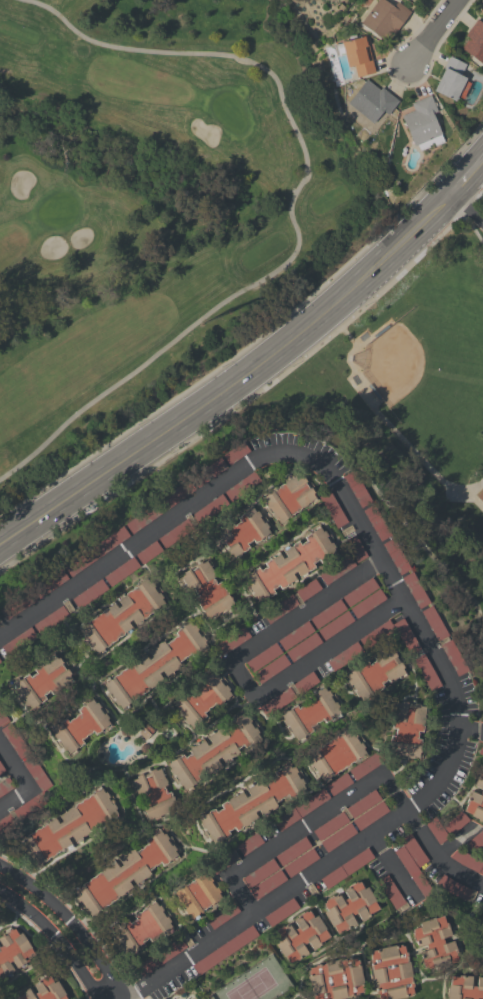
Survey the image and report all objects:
building: (410, 0)
building: (385, 17)
road: (434, 33)
building: (475, 41)
building: (356, 55)
building: (453, 80)
building: (372, 102)
building: (423, 123)
road: (467, 176)
road: (467, 208)
road: (290, 211)
park: (431, 368)
road: (235, 382)
park: (416, 405)
road: (384, 420)
building: (236, 452)
road: (301, 460)
building: (209, 472)
road: (273, 482)
building: (242, 486)
road: (319, 488)
building: (356, 489)
building: (176, 495)
building: (480, 495)
building: (289, 498)
building: (210, 509)
building: (333, 509)
road: (237, 512)
road: (190, 515)
building: (143, 519)
building: (376, 522)
road: (305, 526)
building: (177, 531)
building: (243, 532)
road: (352, 534)
building: (111, 541)
road: (213, 541)
building: (355, 548)
building: (148, 552)
road: (134, 556)
building: (396, 556)
building: (82, 562)
building: (289, 564)
building: (337, 570)
building: (121, 571)
road: (173, 574)
road: (305, 577)
building: (49, 583)
road: (325, 586)
building: (206, 590)
building: (308, 590)
building: (415, 590)
building: (359, 592)
building: (90, 594)
road: (246, 594)
road: (244, 596)
building: (367, 604)
building: (17, 605)
road: (191, 606)
building: (280, 609)
road: (56, 611)
road: (229, 614)
building: (327, 614)
building: (121, 615)
road: (228, 616)
road: (183, 617)
road: (81, 618)
road: (222, 619)
building: (51, 620)
road: (414, 621)
building: (434, 623)
road: (141, 625)
building: (335, 625)
road: (133, 626)
road: (263, 627)
building: (377, 634)
building: (295, 636)
building: (232, 641)
building: (19, 642)
building: (303, 647)
road: (421, 649)
road: (402, 654)
building: (344, 656)
building: (263, 657)
building: (453, 657)
road: (226, 659)
building: (154, 665)
road: (71, 666)
road: (231, 669)
building: (271, 669)
road: (319, 671)
building: (426, 672)
building: (375, 673)
road: (95, 676)
road: (243, 677)
road: (413, 679)
building: (42, 681)
road: (341, 686)
road: (230, 689)
building: (289, 694)
road: (406, 696)
building: (202, 699)
road: (150, 700)
road: (336, 700)
road: (252, 701)
road: (239, 706)
road: (21, 708)
road: (105, 710)
road: (67, 711)
road: (126, 712)
building: (310, 713)
building: (3, 718)
road: (271, 718)
road: (182, 724)
road: (4, 725)
building: (80, 726)
building: (406, 729)
building: (145, 731)
road: (470, 732)
building: (15, 741)
road: (372, 747)
building: (481, 750)
building: (214, 751)
road: (61, 754)
building: (336, 754)
road: (155, 762)
building: (366, 765)
building: (1, 769)
road: (104, 769)
road: (394, 771)
road: (7, 774)
road: (238, 783)
building: (338, 784)
road: (24, 785)
road: (321, 785)
building: (5, 786)
road: (316, 786)
road: (37, 792)
building: (154, 793)
road: (444, 793)
building: (39, 796)
building: (476, 799)
road: (133, 801)
building: (251, 803)
building: (363, 804)
road: (457, 804)
road: (459, 807)
building: (301, 809)
building: (370, 815)
road: (120, 816)
road: (164, 821)
building: (455, 823)
building: (330, 825)
road: (474, 825)
building: (68, 827)
road: (307, 827)
building: (437, 830)
road: (238, 832)
road: (270, 833)
building: (338, 837)
building: (475, 841)
road: (454, 842)
building: (250, 844)
road: (184, 847)
building: (293, 851)
road: (232, 858)
road: (436, 858)
road: (178, 860)
building: (467, 860)
road: (23, 861)
building: (221, 862)
building: (300, 863)
building: (413, 863)
building: (347, 868)
road: (393, 869)
building: (481, 871)
building: (124, 873)
building: (260, 873)
building: (268, 884)
building: (456, 888)
road: (307, 892)
building: (392, 894)
building: (197, 895)
road: (476, 895)
road: (312, 904)
building: (349, 907)
road: (408, 907)
road: (78, 909)
road: (70, 910)
building: (281, 912)
building: (222, 915)
road: (119, 916)
road: (184, 921)
road: (324, 921)
road: (69, 922)
road: (20, 927)
building: (142, 928)
road: (405, 932)
building: (300, 936)
road: (335, 939)
road: (58, 942)
building: (435, 943)
road: (49, 944)
road: (410, 945)
building: (225, 950)
building: (13, 952)
building: (159, 958)
road: (315, 962)
road: (472, 970)
building: (392, 972)
road: (12, 974)
building: (336, 979)
park: (256, 983)
road: (442, 986)
road: (24, 988)
building: (465, 988)
road: (132, 989)
building: (44, 990)
road: (372, 993)
road: (298, 996)
road: (145, 998)
road: (147, 998)
road: (353, 998)

